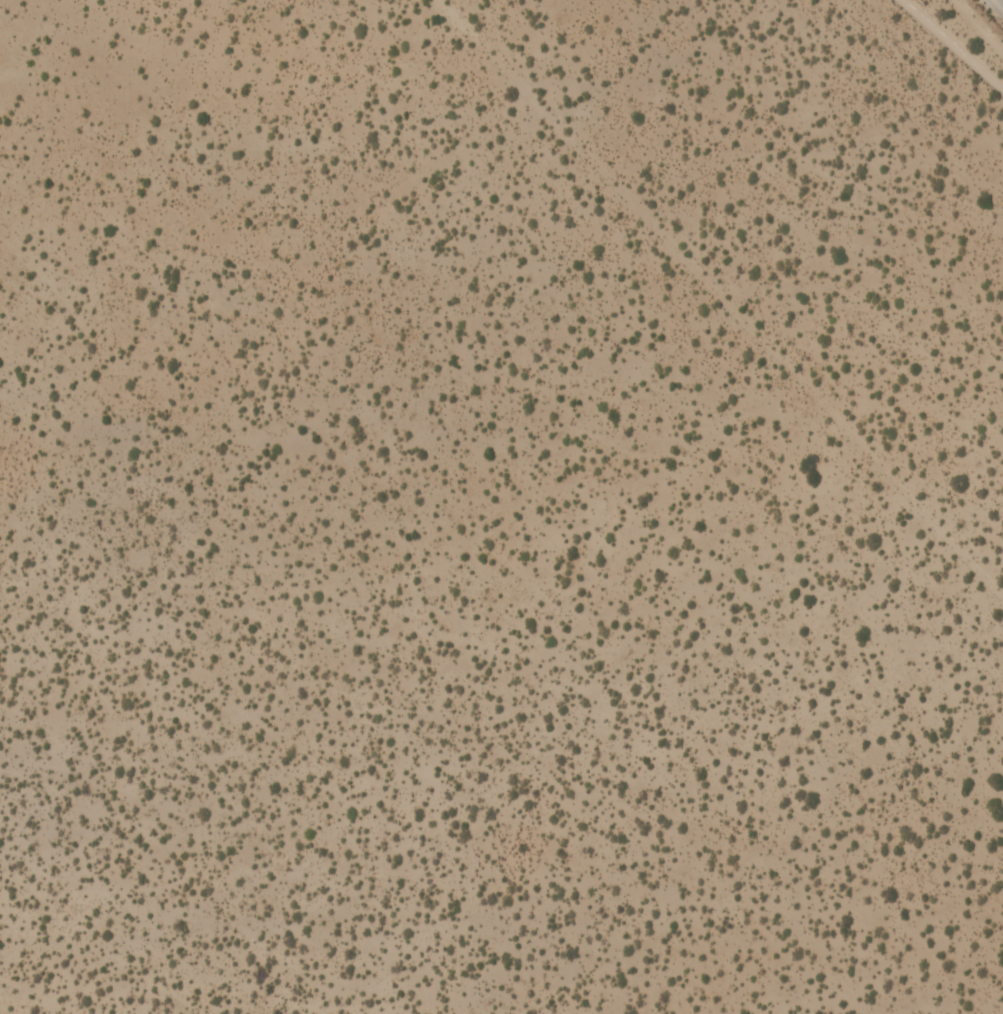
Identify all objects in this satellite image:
road: (947, 50)

